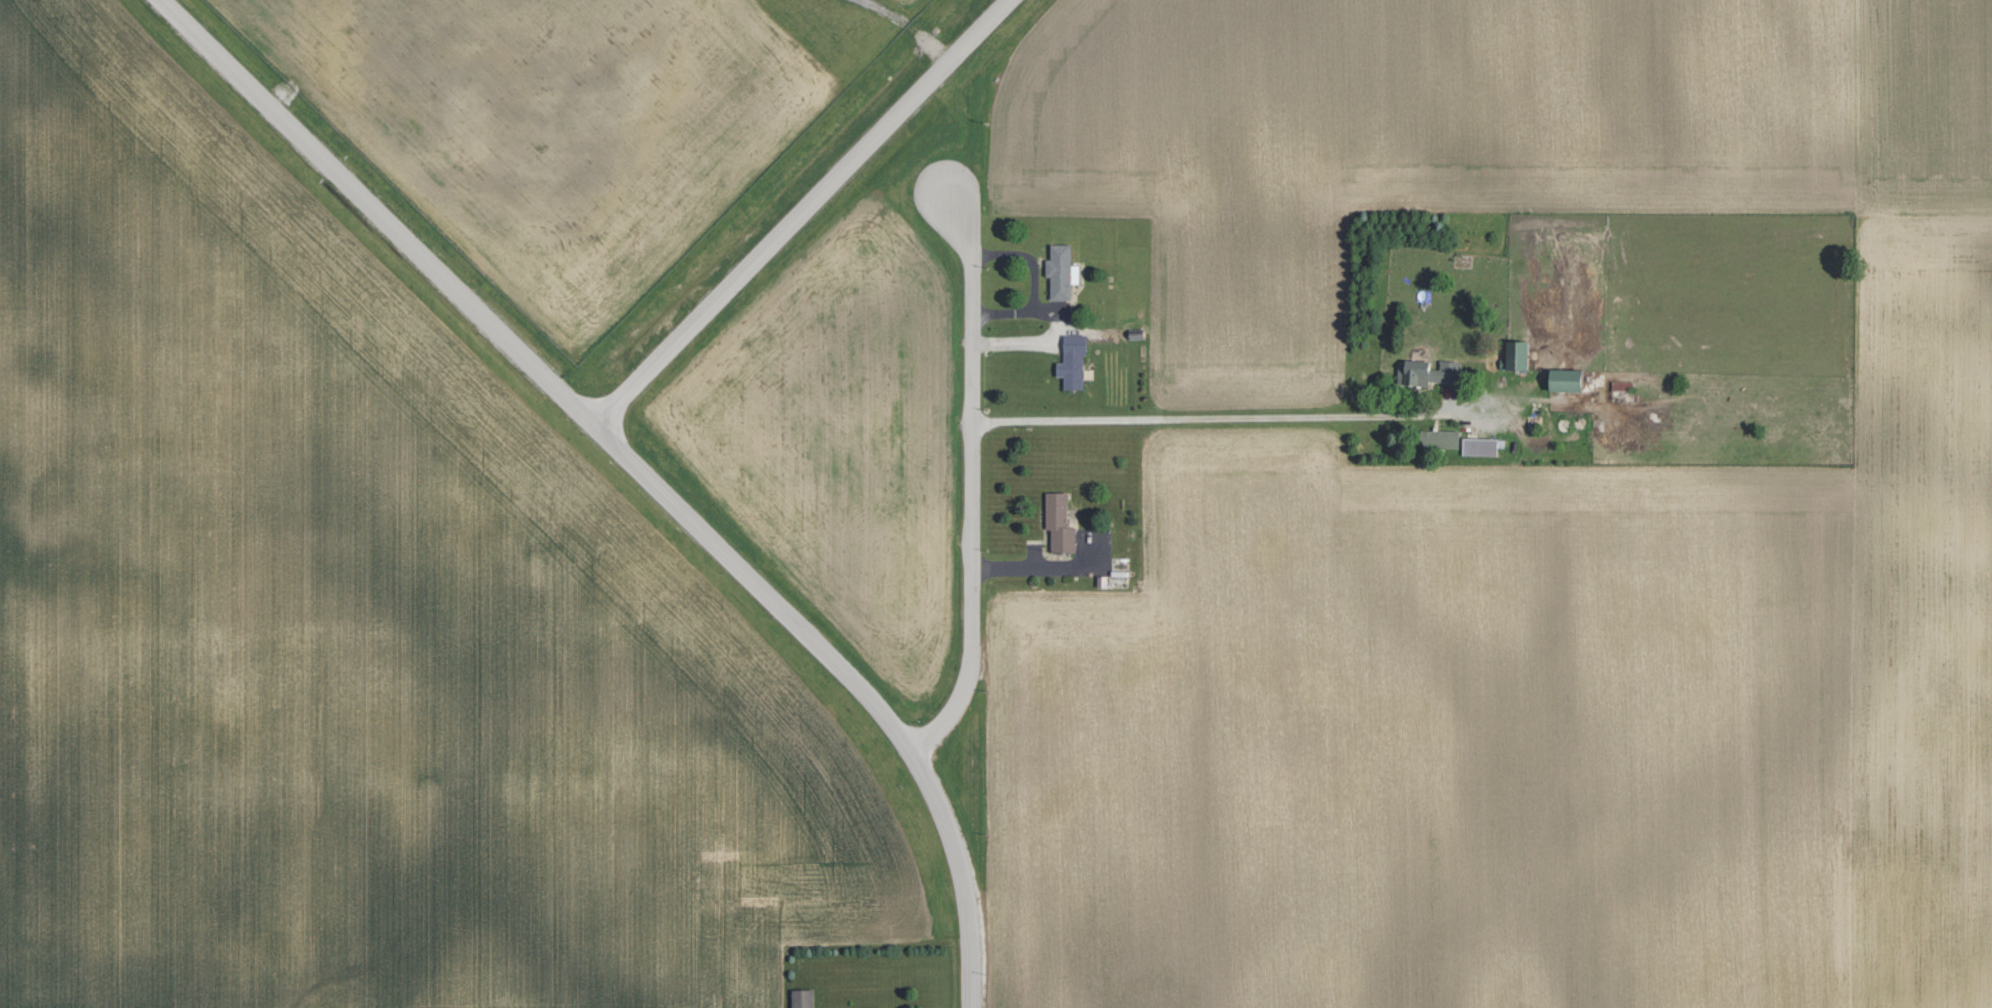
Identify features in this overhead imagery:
airport: (584, 122)
road: (808, 210)
building: (1063, 271)
building: (1520, 355)
building: (1074, 362)
road: (548, 368)
building: (1430, 372)
building: (1568, 380)
road: (1216, 415)
building: (1446, 438)
building: (1060, 522)
road: (971, 614)

